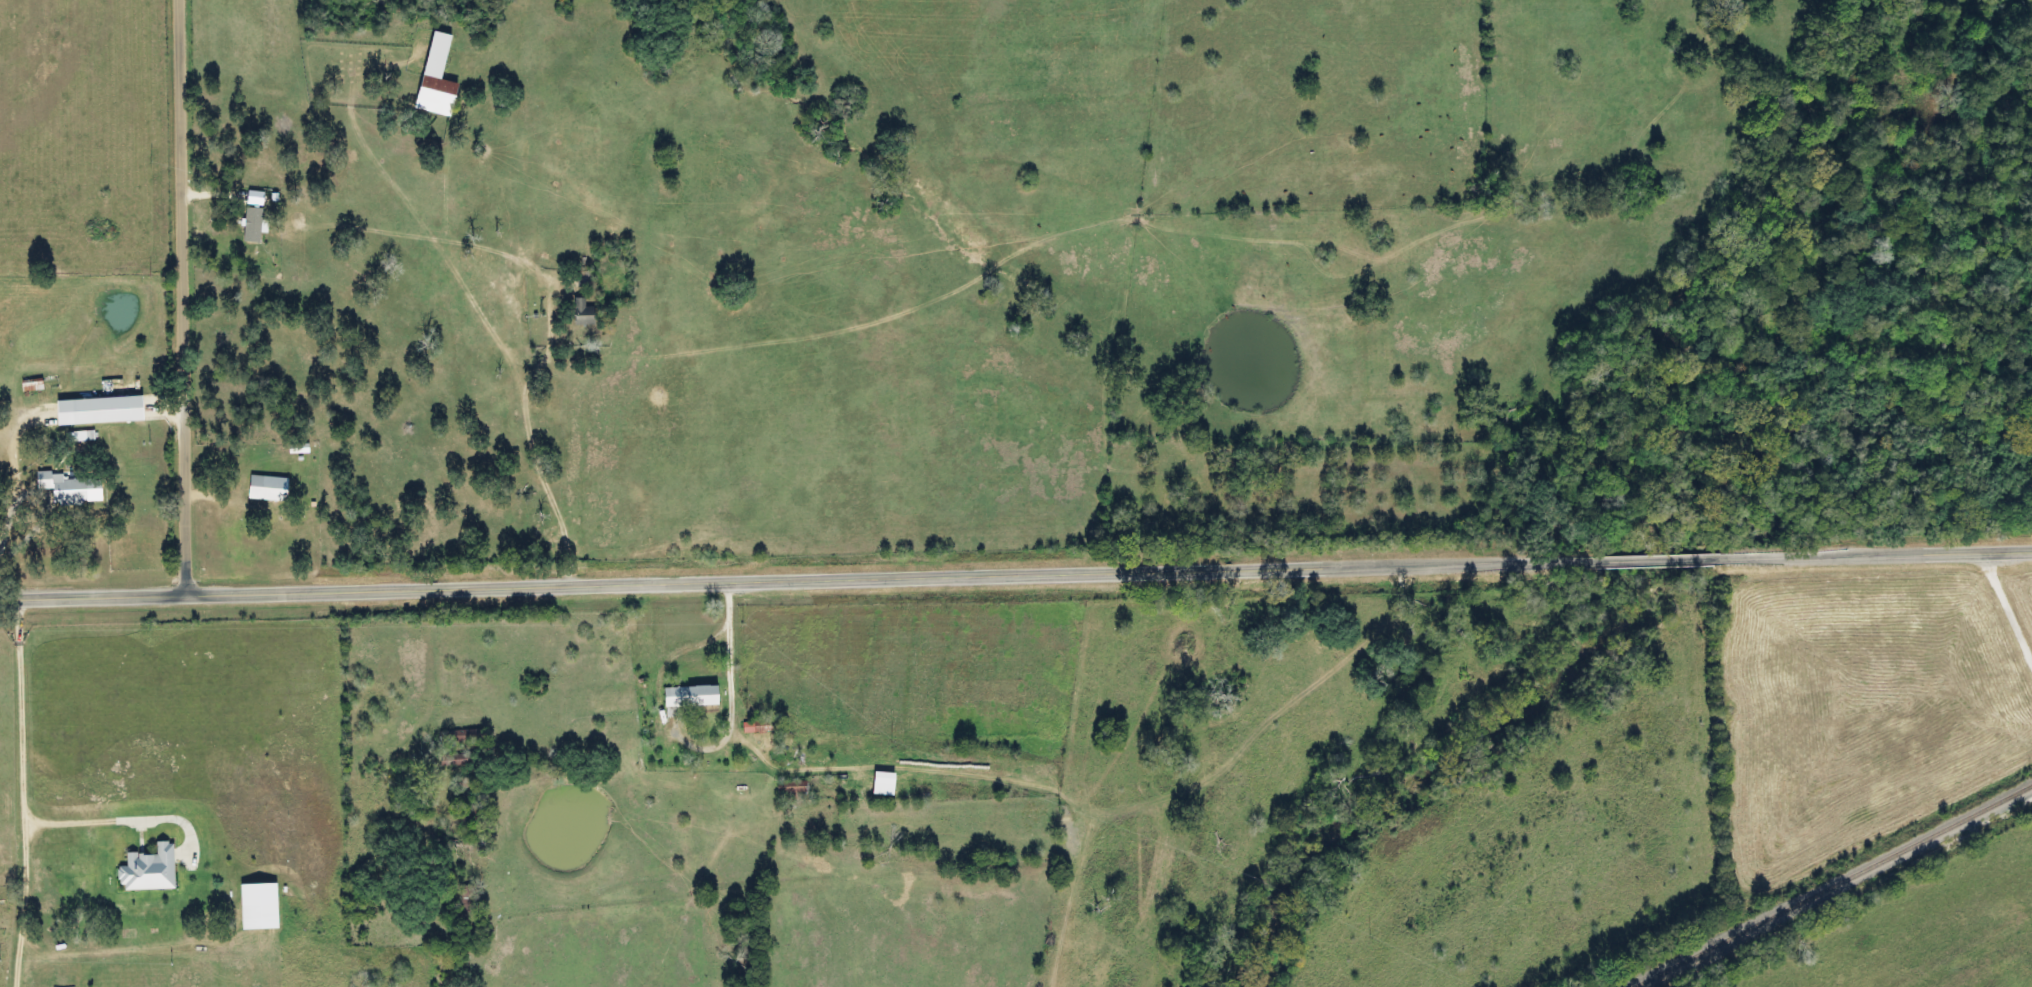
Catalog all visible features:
building: (436, 95)
building: (584, 279)
road: (185, 295)
building: (583, 313)
building: (31, 385)
building: (82, 432)
building: (298, 448)
building: (268, 488)
building: (65, 489)
road: (1016, 575)
road: (2012, 604)
building: (691, 694)
building: (759, 724)
building: (466, 734)
building: (458, 757)
building: (883, 782)
building: (792, 788)
road: (25, 792)
railway: (1831, 885)
building: (258, 905)
building: (469, 912)

